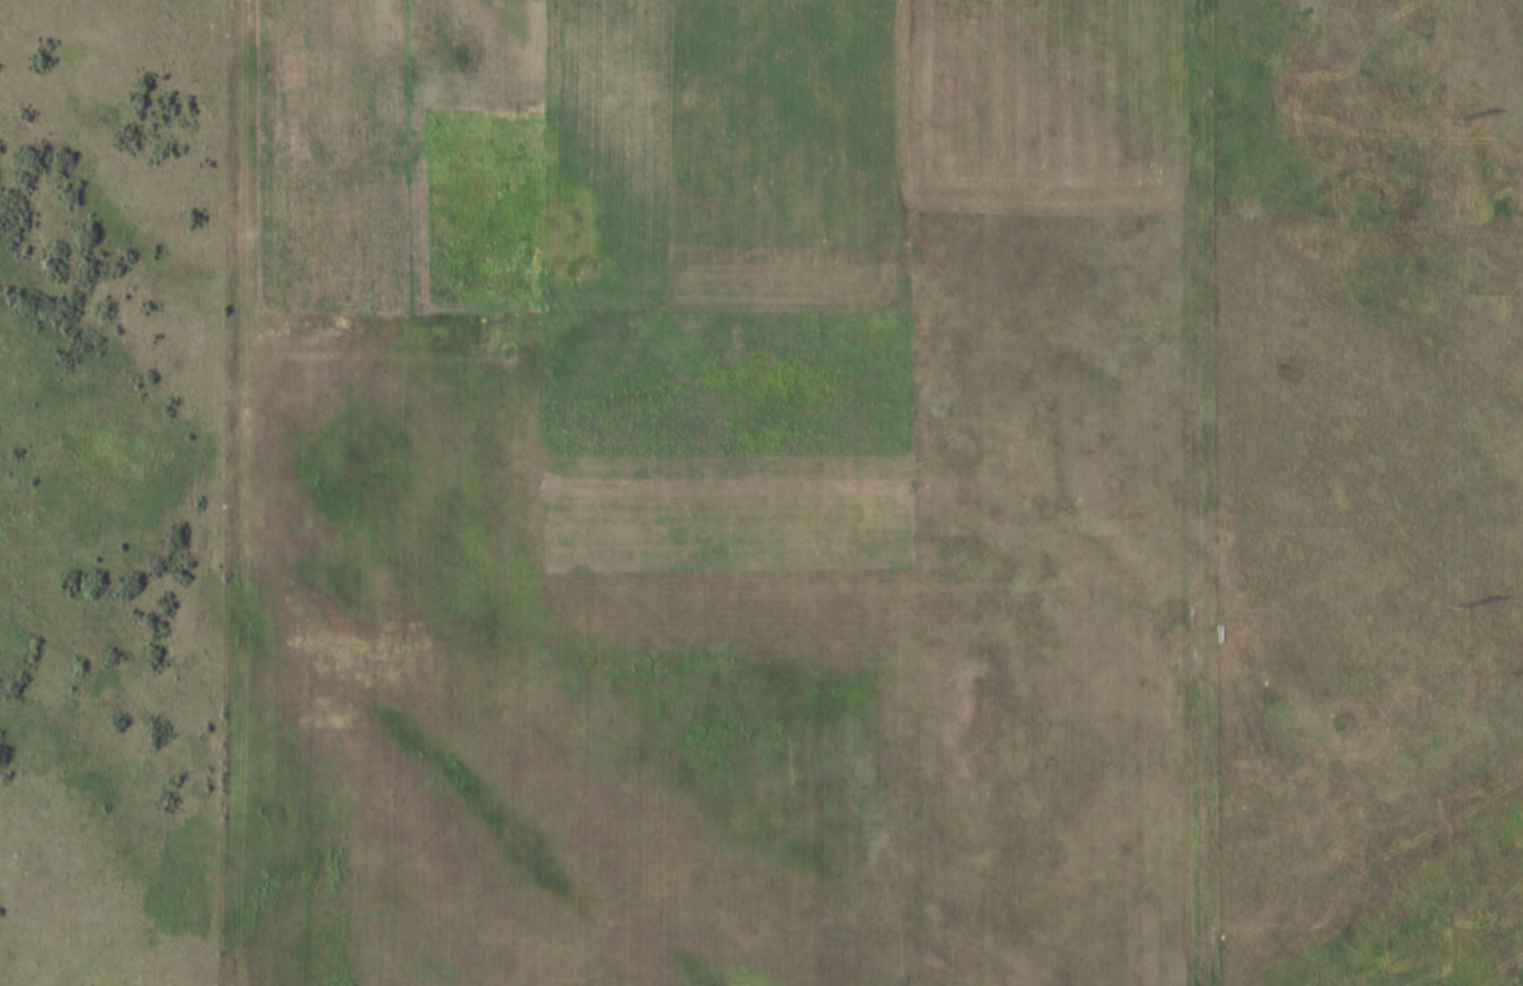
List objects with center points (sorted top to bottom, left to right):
power tower: (1461, 119)
power tower: (1460, 611)

